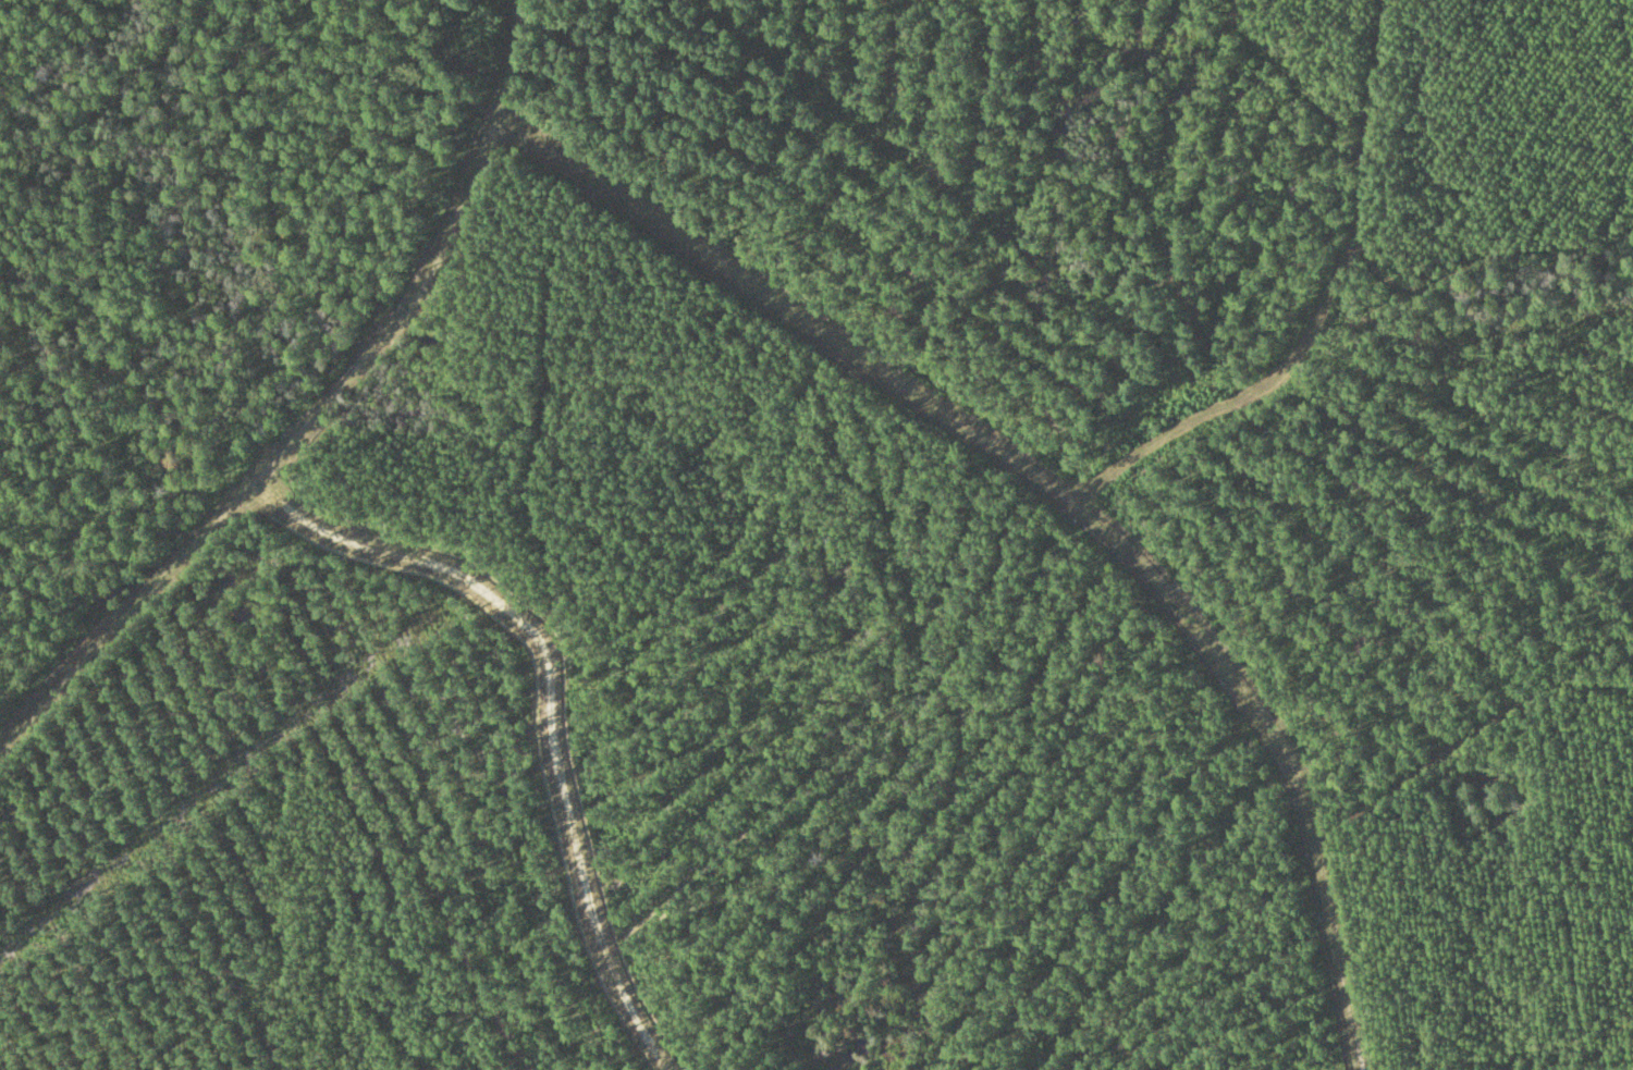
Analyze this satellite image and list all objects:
road: (293, 394)

